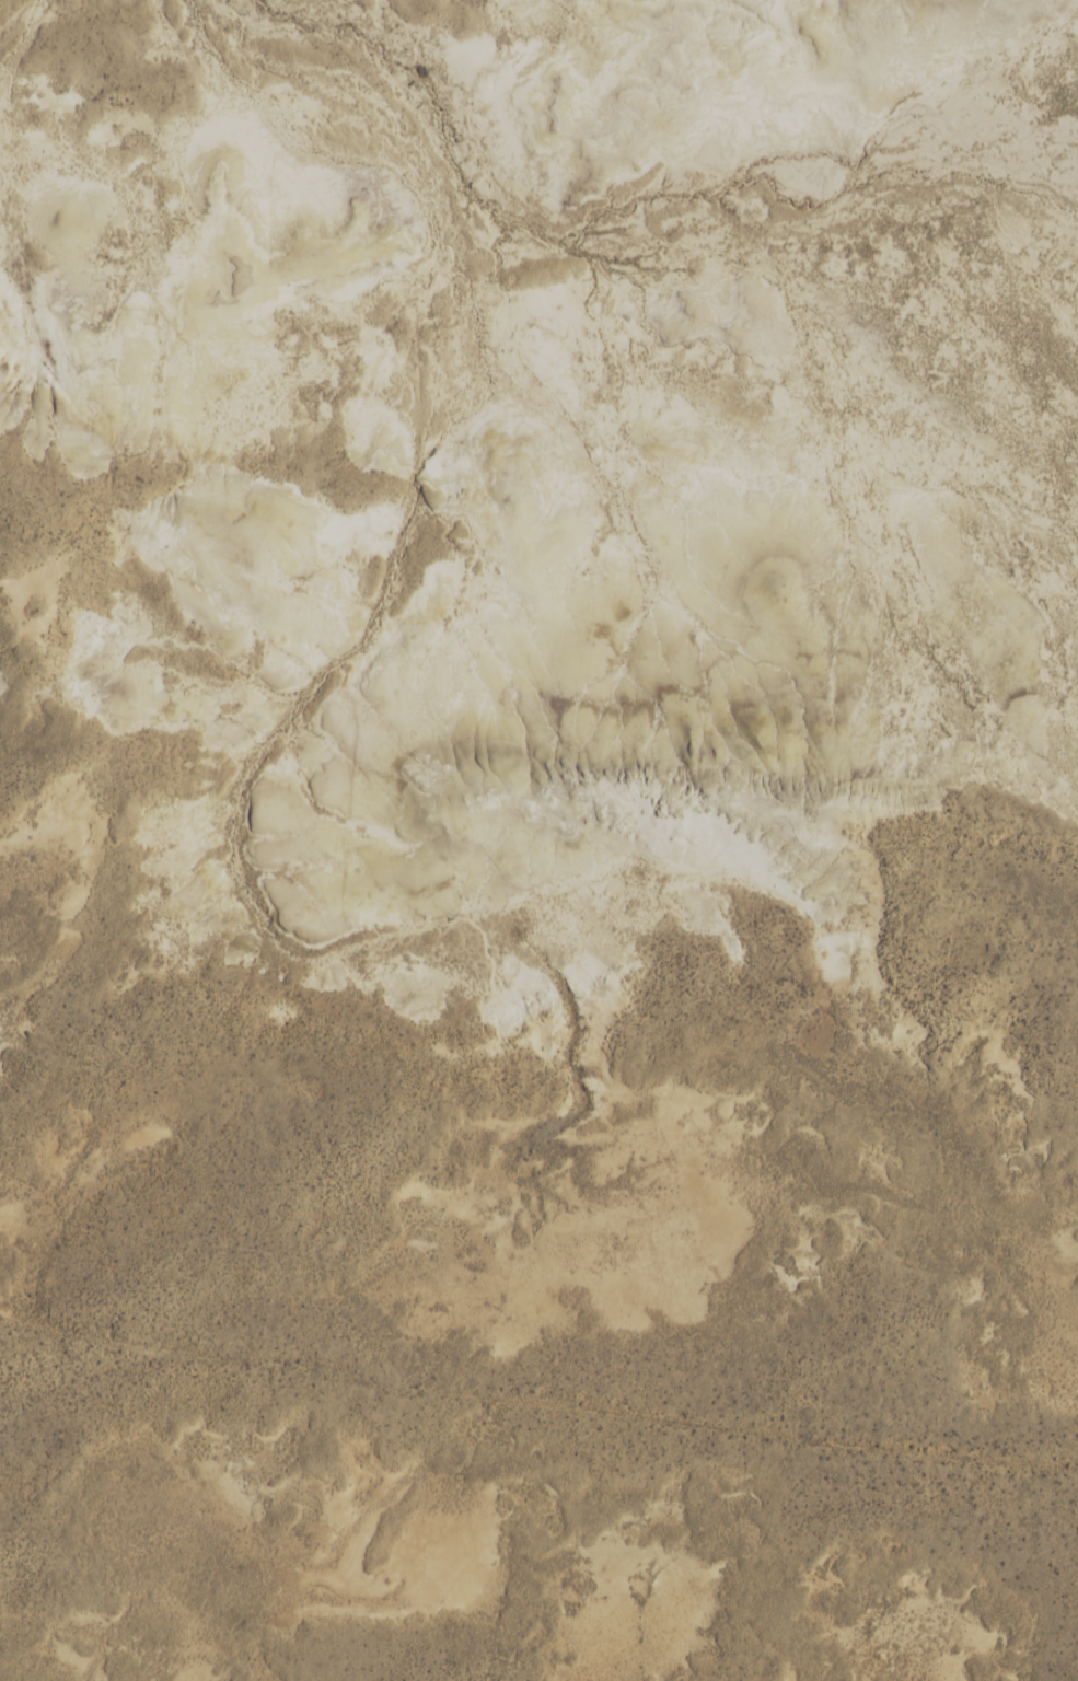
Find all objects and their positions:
road: (537, 1427)

